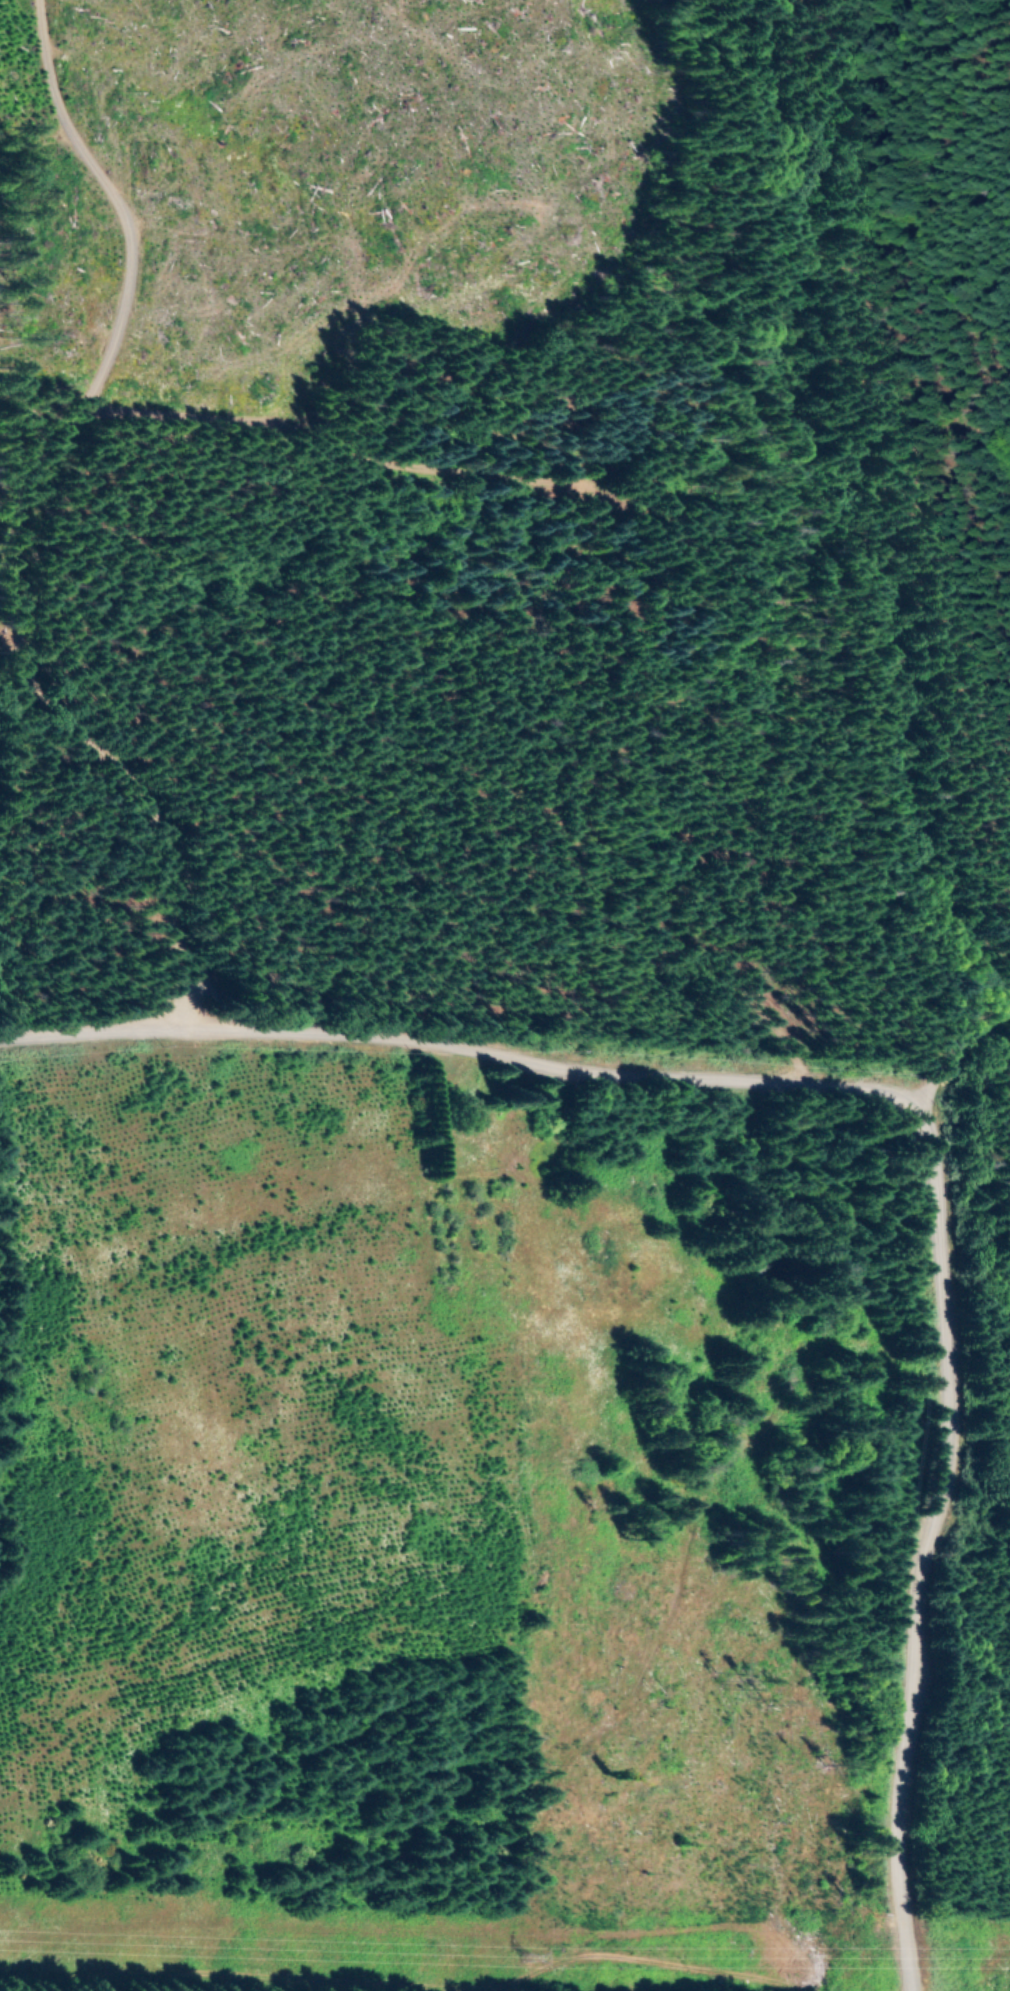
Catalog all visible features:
road: (34, 565)
road: (465, 1041)
road: (920, 1551)
power tower: (521, 1953)

